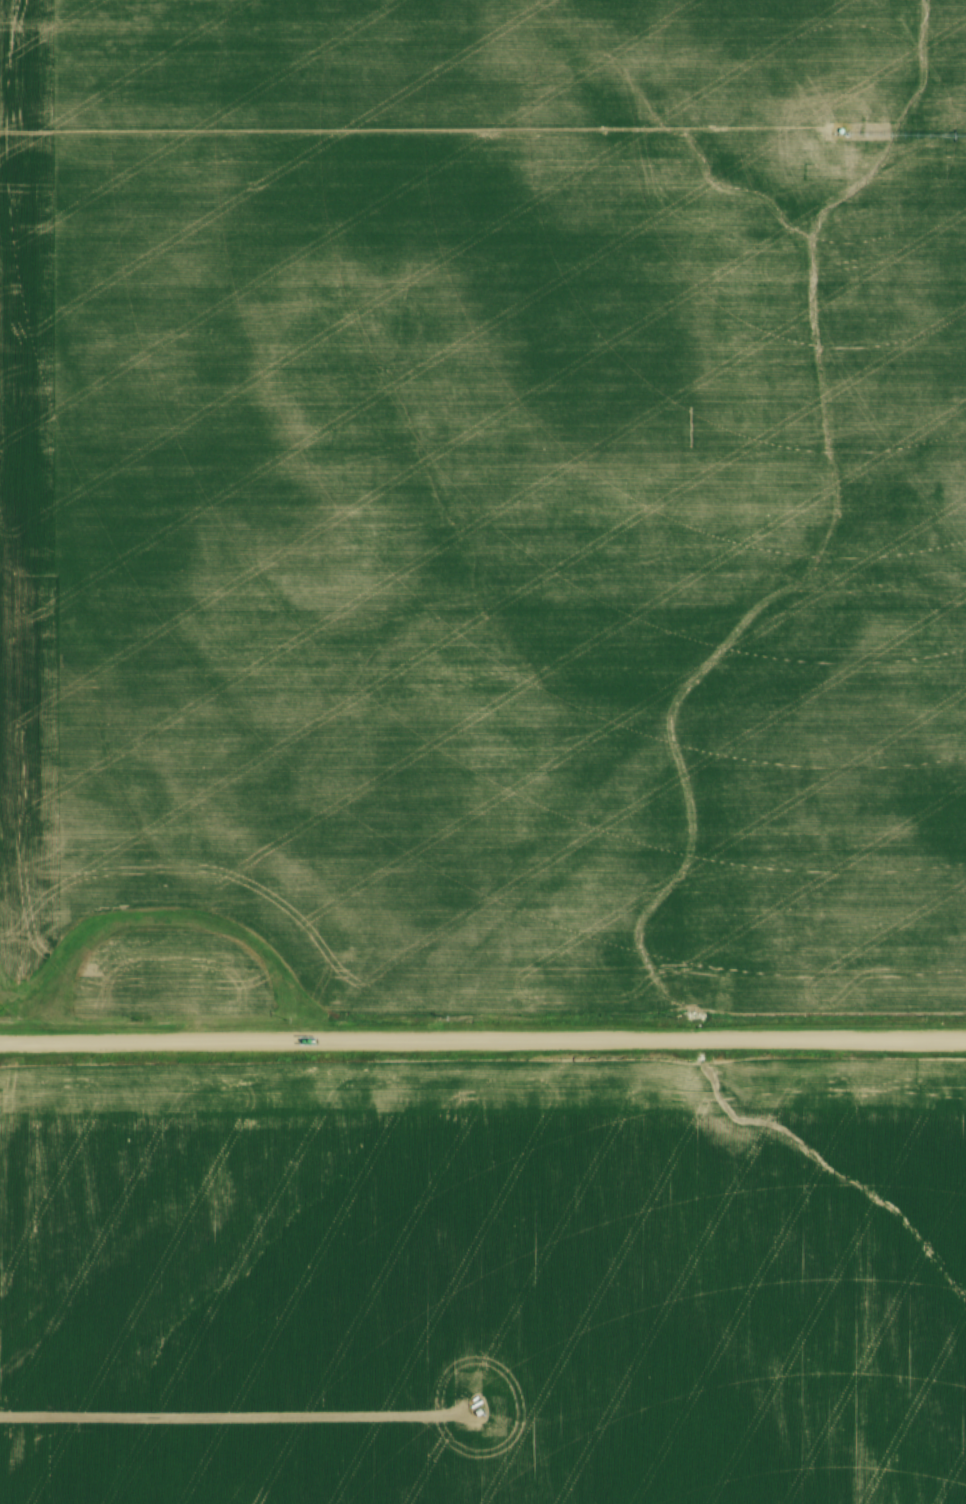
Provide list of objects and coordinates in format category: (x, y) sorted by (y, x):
road: (482, 1047)

